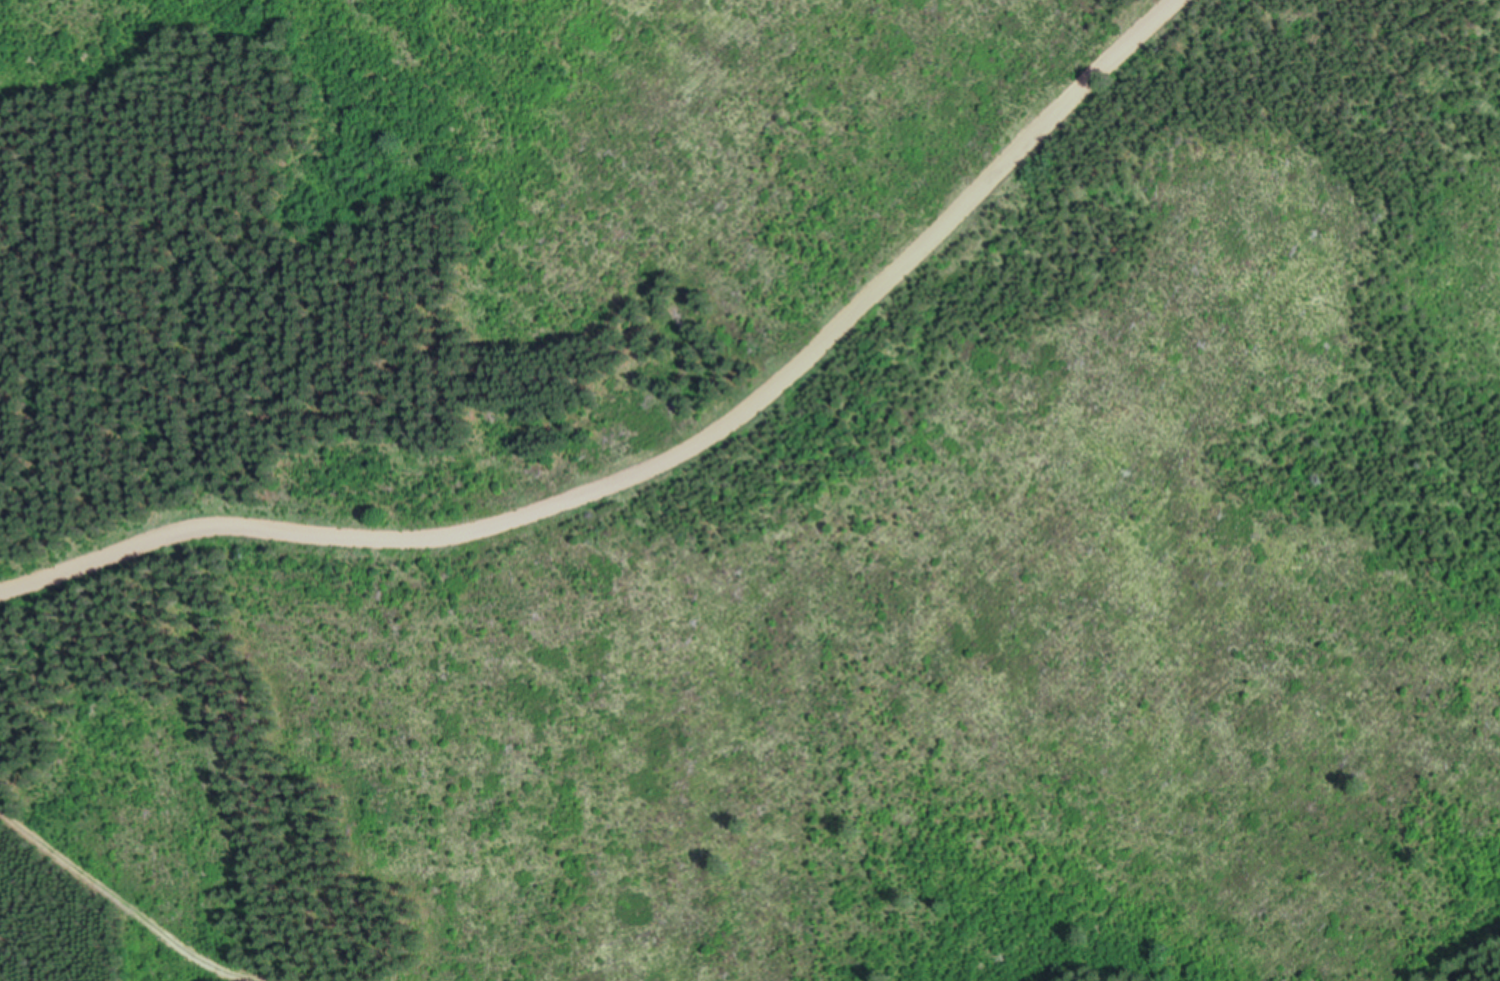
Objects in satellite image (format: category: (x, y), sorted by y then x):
road: (670, 464)

